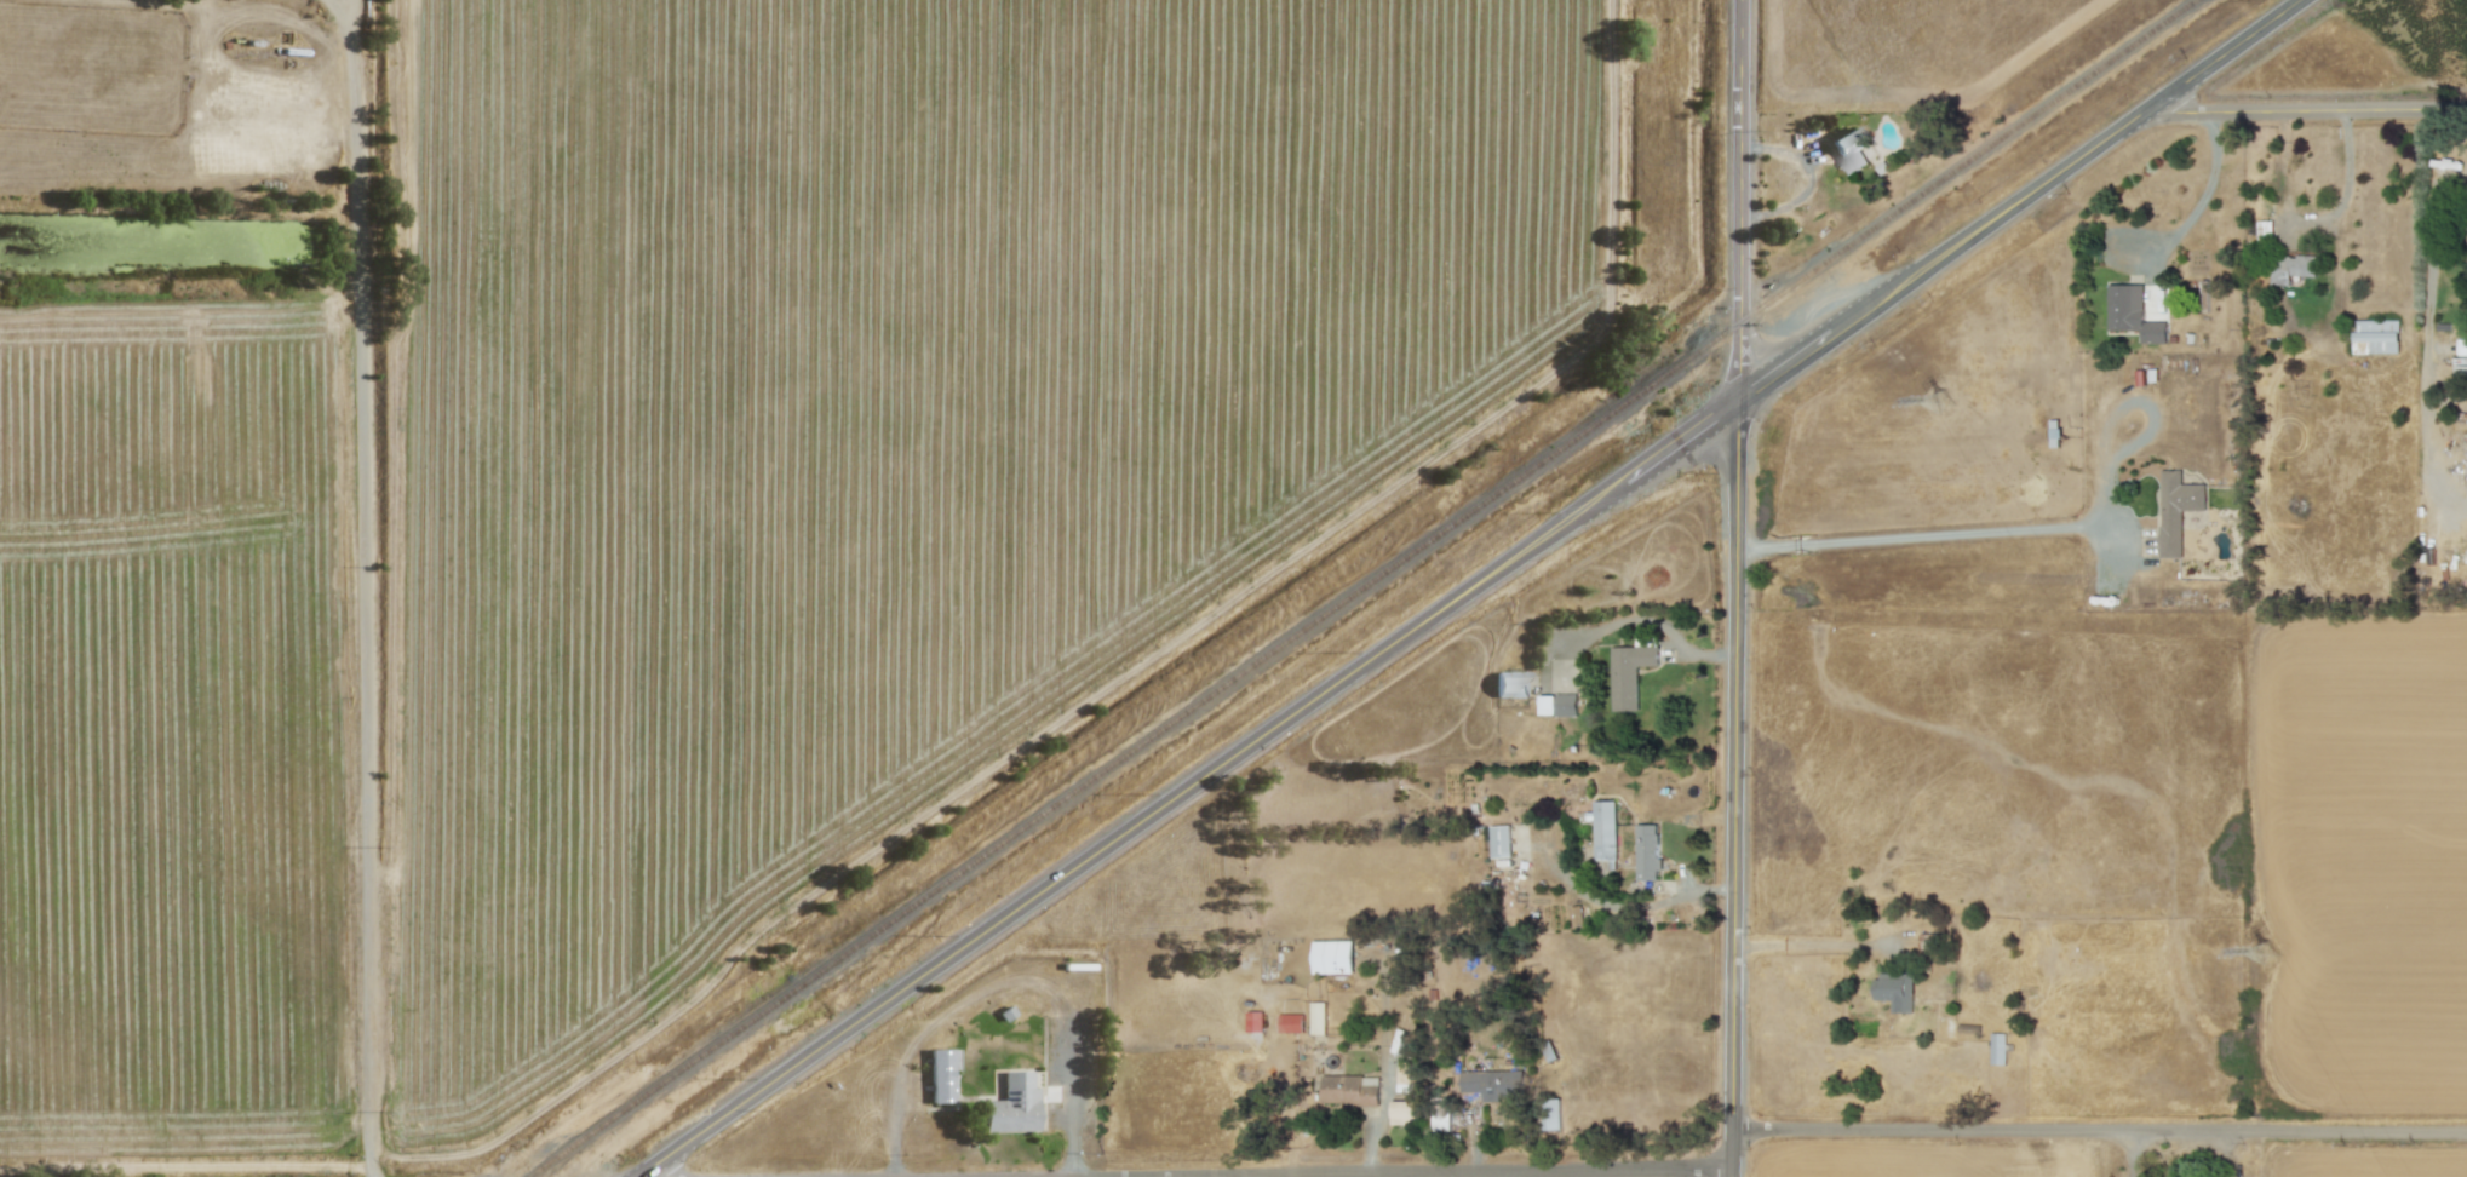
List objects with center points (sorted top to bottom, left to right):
road: (2306, 110)
building: (1849, 149)
road: (2346, 185)
road: (2203, 197)
building: (2264, 229)
building: (2293, 268)
building: (2202, 295)
building: (2133, 314)
building: (2375, 337)
building: (2462, 348)
power tower: (1930, 401)
building: (2176, 509)
road: (2035, 527)
road: (366, 587)
railway: (1365, 588)
road: (1473, 588)
road: (1740, 588)
building: (1629, 673)
building: (1511, 684)
building: (1557, 705)
building: (1603, 828)
building: (1499, 840)
building: (1647, 851)
building: (1576, 915)
building: (1929, 941)
building: (1332, 957)
power tower: (2260, 957)
road: (1002, 981)
building: (1894, 991)
building: (1318, 1017)
building: (1253, 1021)
building: (1291, 1023)
building: (1997, 1047)
building: (940, 1075)
building: (1405, 1076)
building: (1493, 1083)
building: (1349, 1090)
building: (1011, 1106)
building: (1402, 1112)
building: (1440, 1114)
building: (1550, 1114)
road: (2101, 1130)
road: (1453, 1171)
road: (1499, 1173)
road: (1224, 1176)

